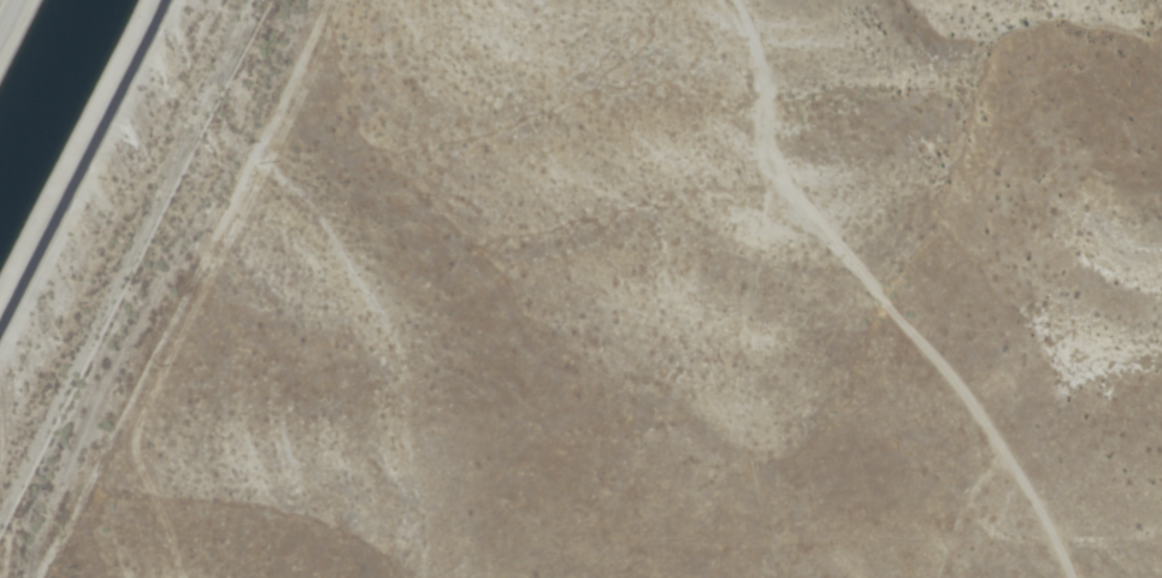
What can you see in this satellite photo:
road: (6, 13)
road: (82, 165)
road: (775, 291)

